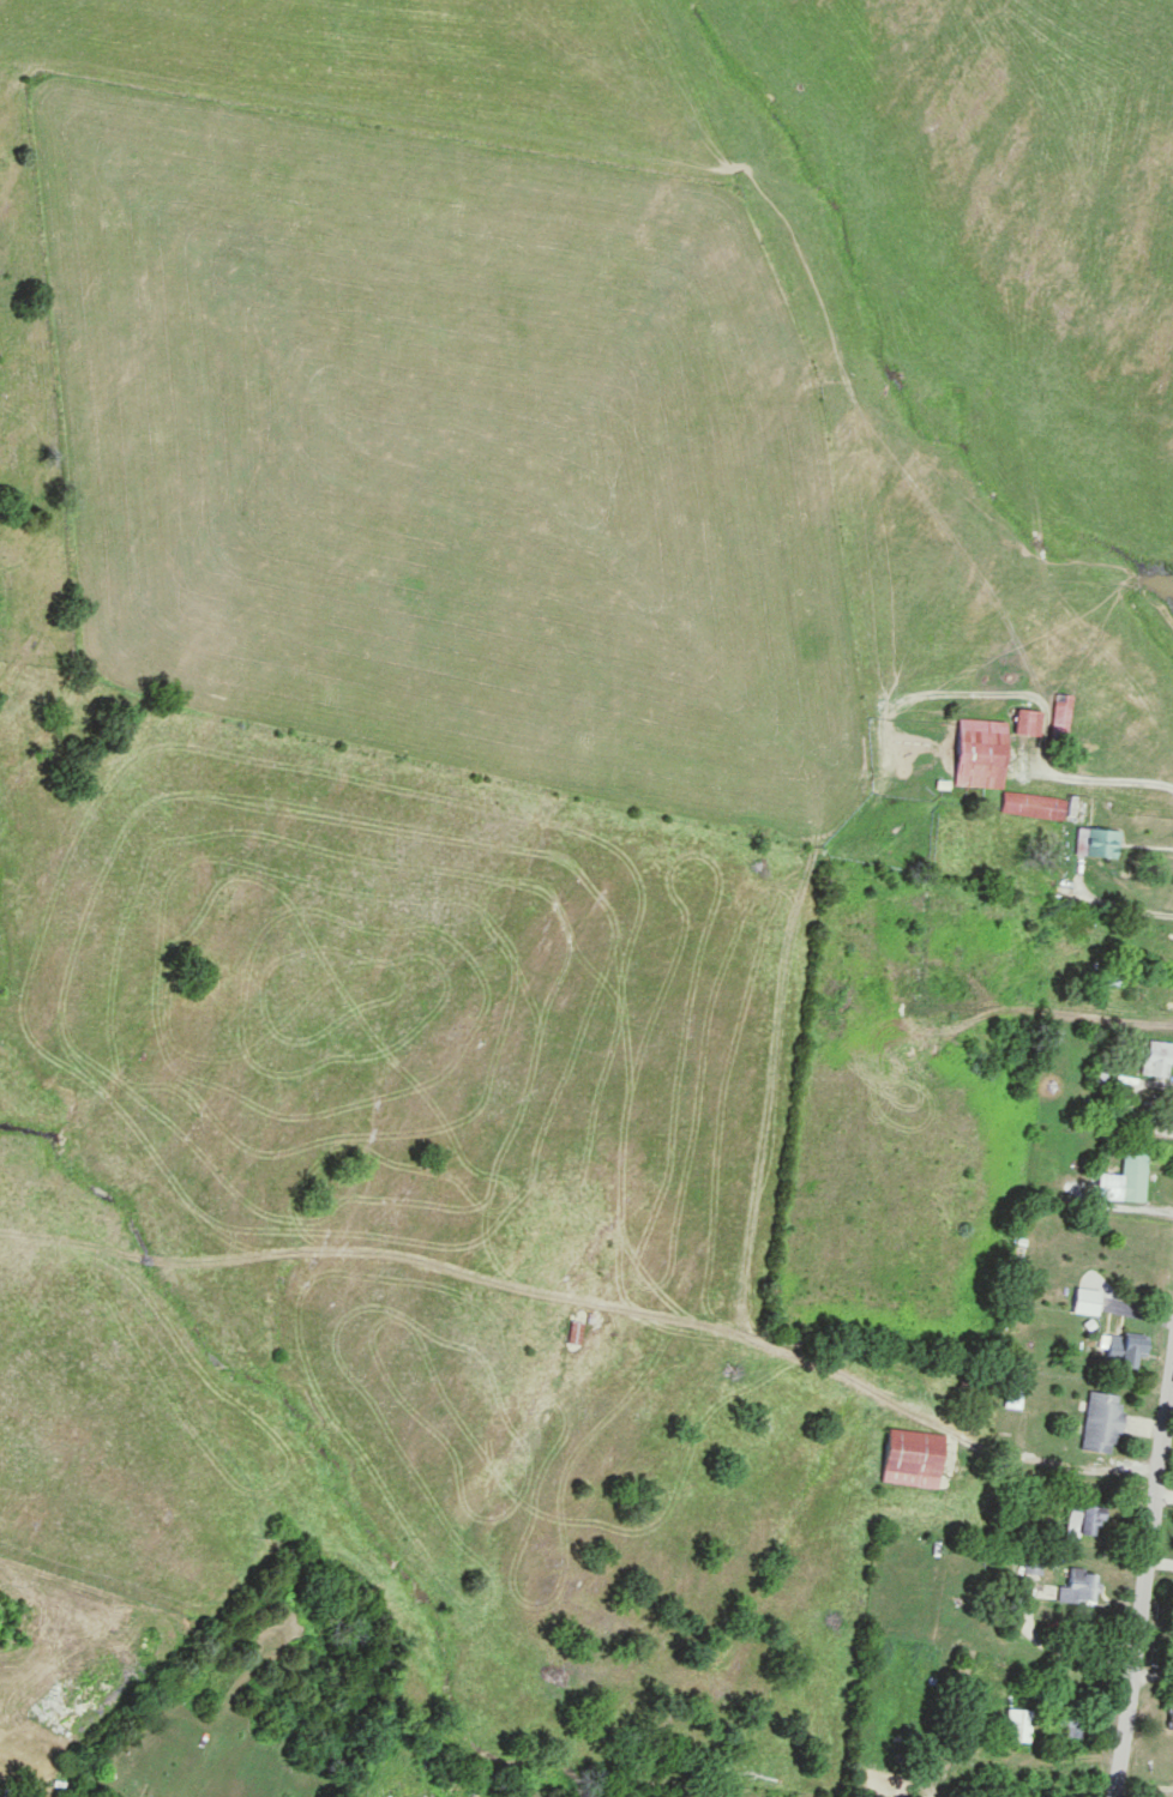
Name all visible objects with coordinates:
building: (1064, 718)
building: (1030, 724)
building: (995, 771)
building: (1102, 844)
building: (1162, 946)
building: (1159, 1059)
building: (1126, 1177)
building: (1087, 1301)
building: (578, 1333)
building: (1123, 1351)
building: (1102, 1423)
building: (914, 1458)
building: (1084, 1519)
building: (1081, 1587)
road: (1144, 1588)
building: (1171, 1717)
building: (1018, 1725)
building: (1071, 1725)

